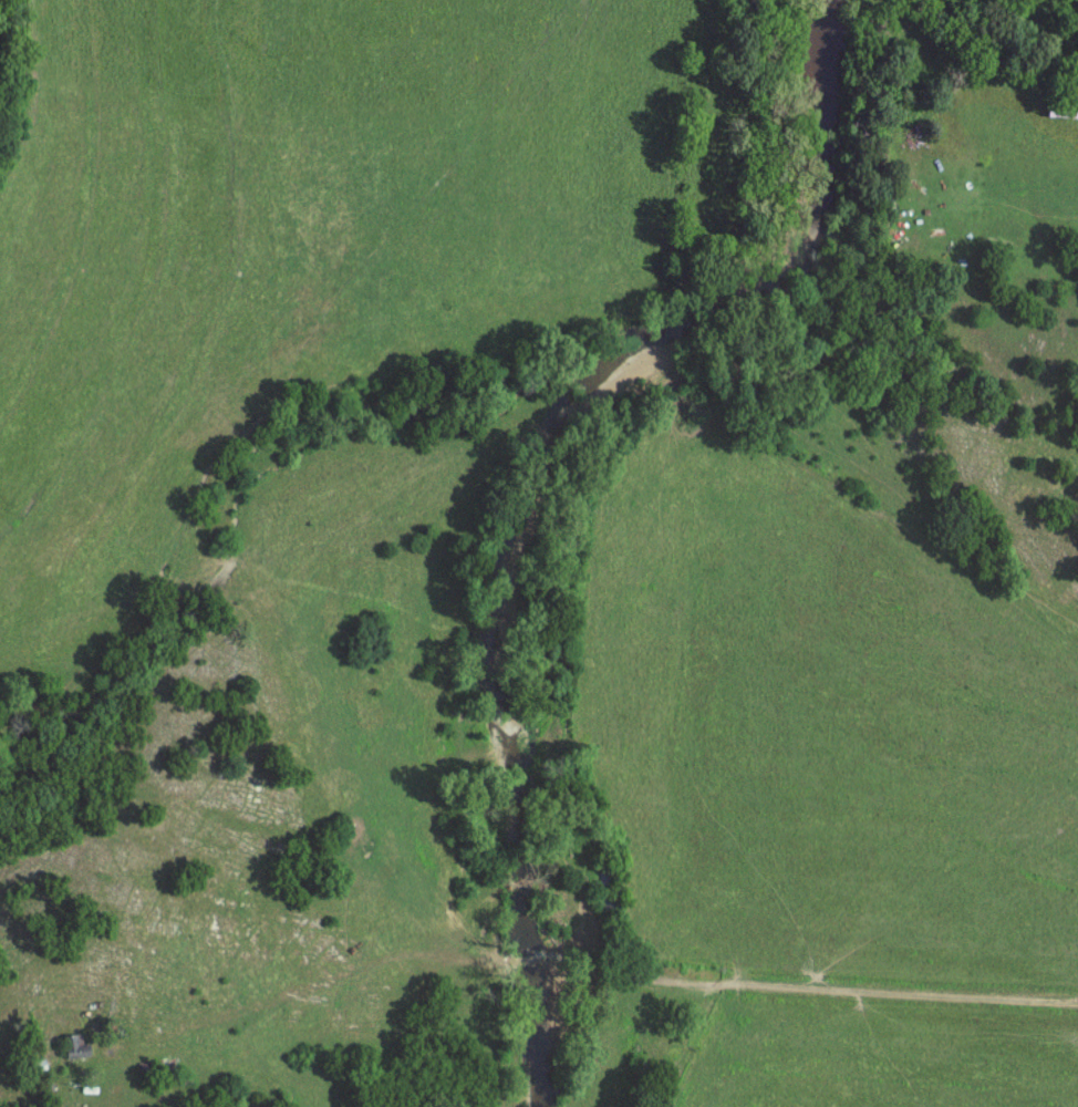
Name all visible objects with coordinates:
building: (77, 1044)
road: (21, 1078)

